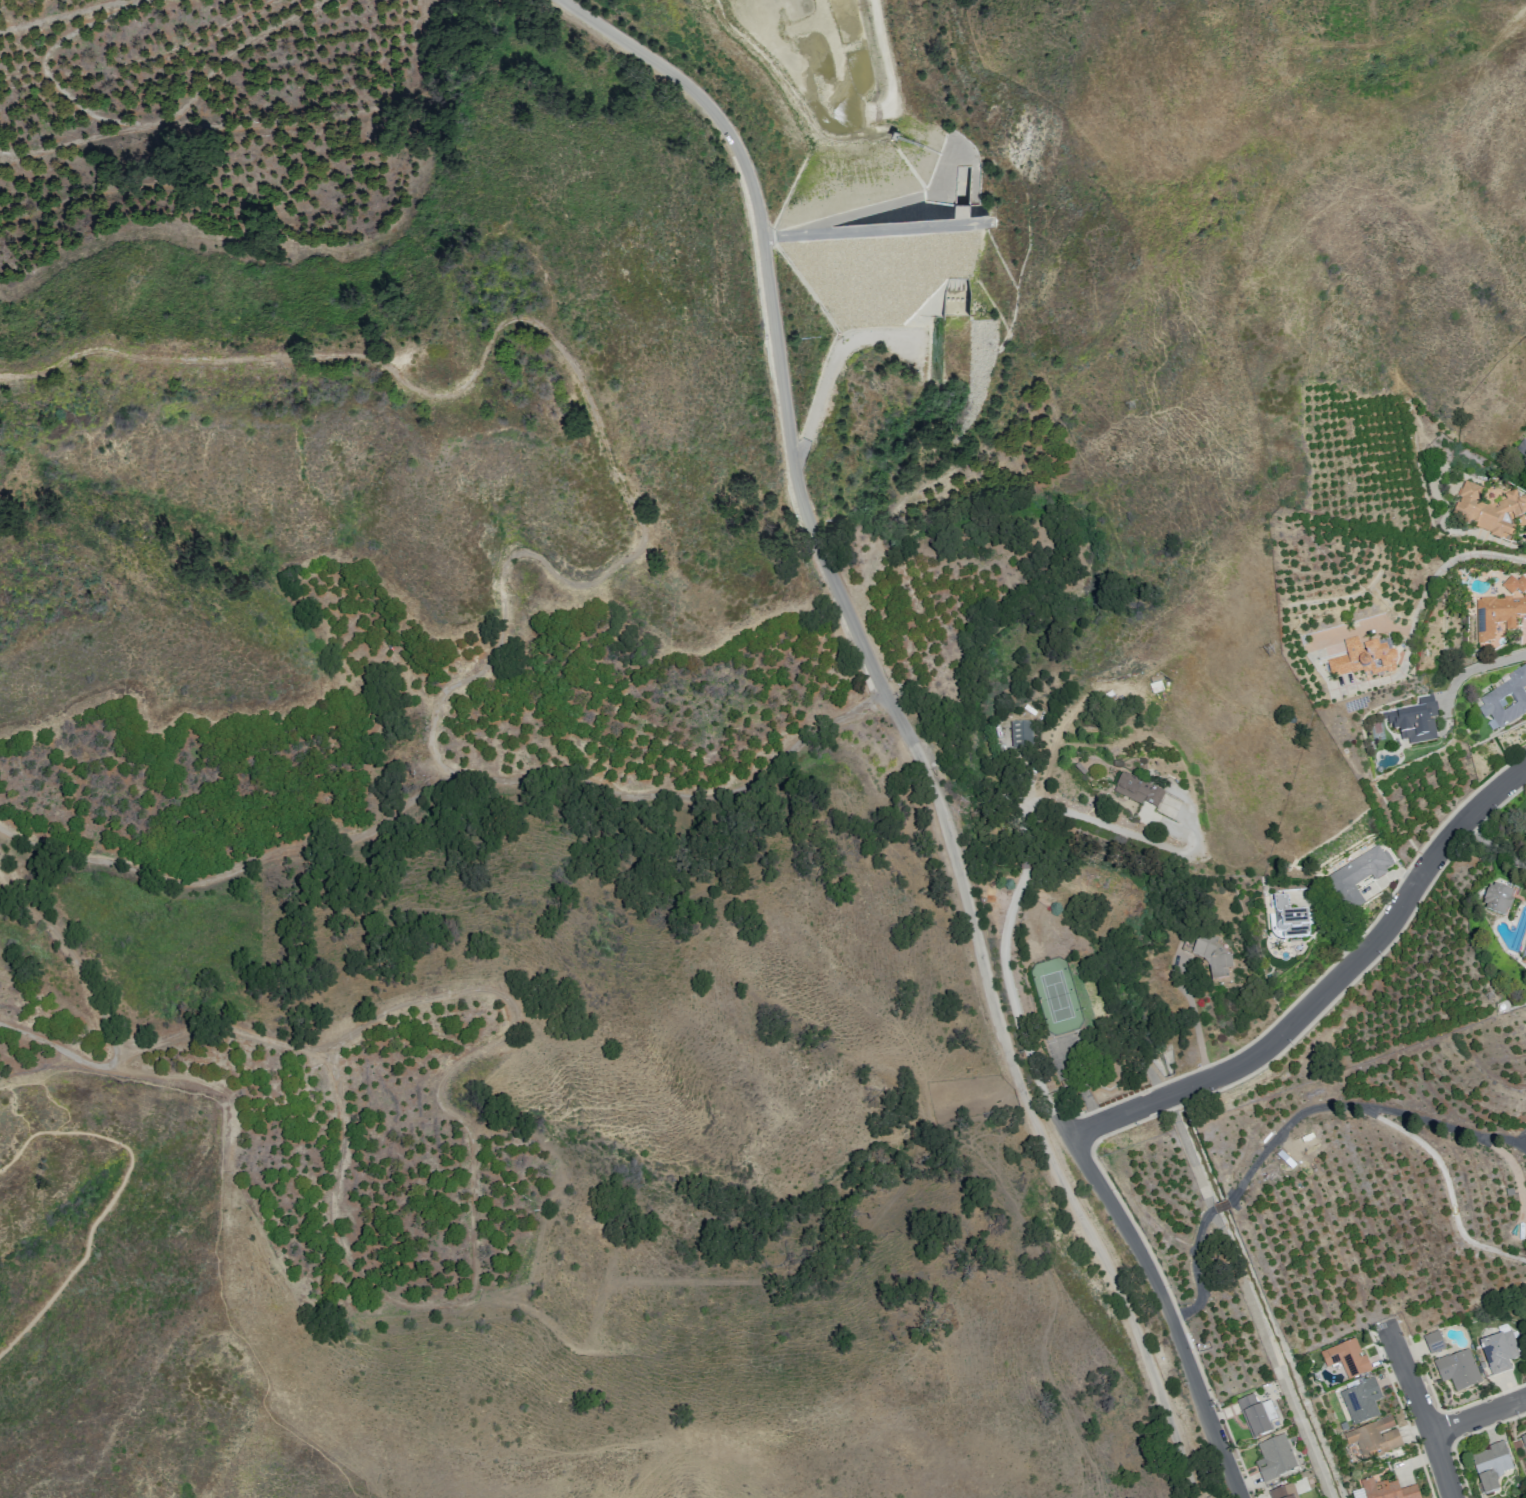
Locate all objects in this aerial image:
building: (1489, 510)
road: (1452, 565)
building: (1514, 586)
building: (1497, 621)
building: (1364, 660)
road: (1480, 669)
road: (1326, 674)
building: (1506, 700)
road: (909, 720)
building: (1413, 723)
building: (1022, 732)
building: (1138, 793)
road: (1028, 812)
road: (1122, 830)
road: (1494, 841)
road: (1026, 851)
building: (1356, 877)
building: (1496, 901)
building: (1287, 921)
building: (1524, 956)
building: (1212, 963)
road: (1327, 990)
road: (1200, 1027)
road: (1359, 1107)
road: (1192, 1152)
road: (1099, 1185)
road: (116, 1199)
road: (1222, 1205)
road: (221, 1217)
road: (1195, 1270)
building: (1433, 1341)
building: (1498, 1350)
building: (1346, 1358)
building: (1457, 1369)
park: (69, 1384)
building: (1360, 1400)
road: (1420, 1408)
building: (1255, 1415)
road: (1478, 1415)
building: (1372, 1441)
building: (1524, 1441)
building: (1274, 1457)
building: (1490, 1465)
building: (1386, 1490)
building: (1282, 1491)

